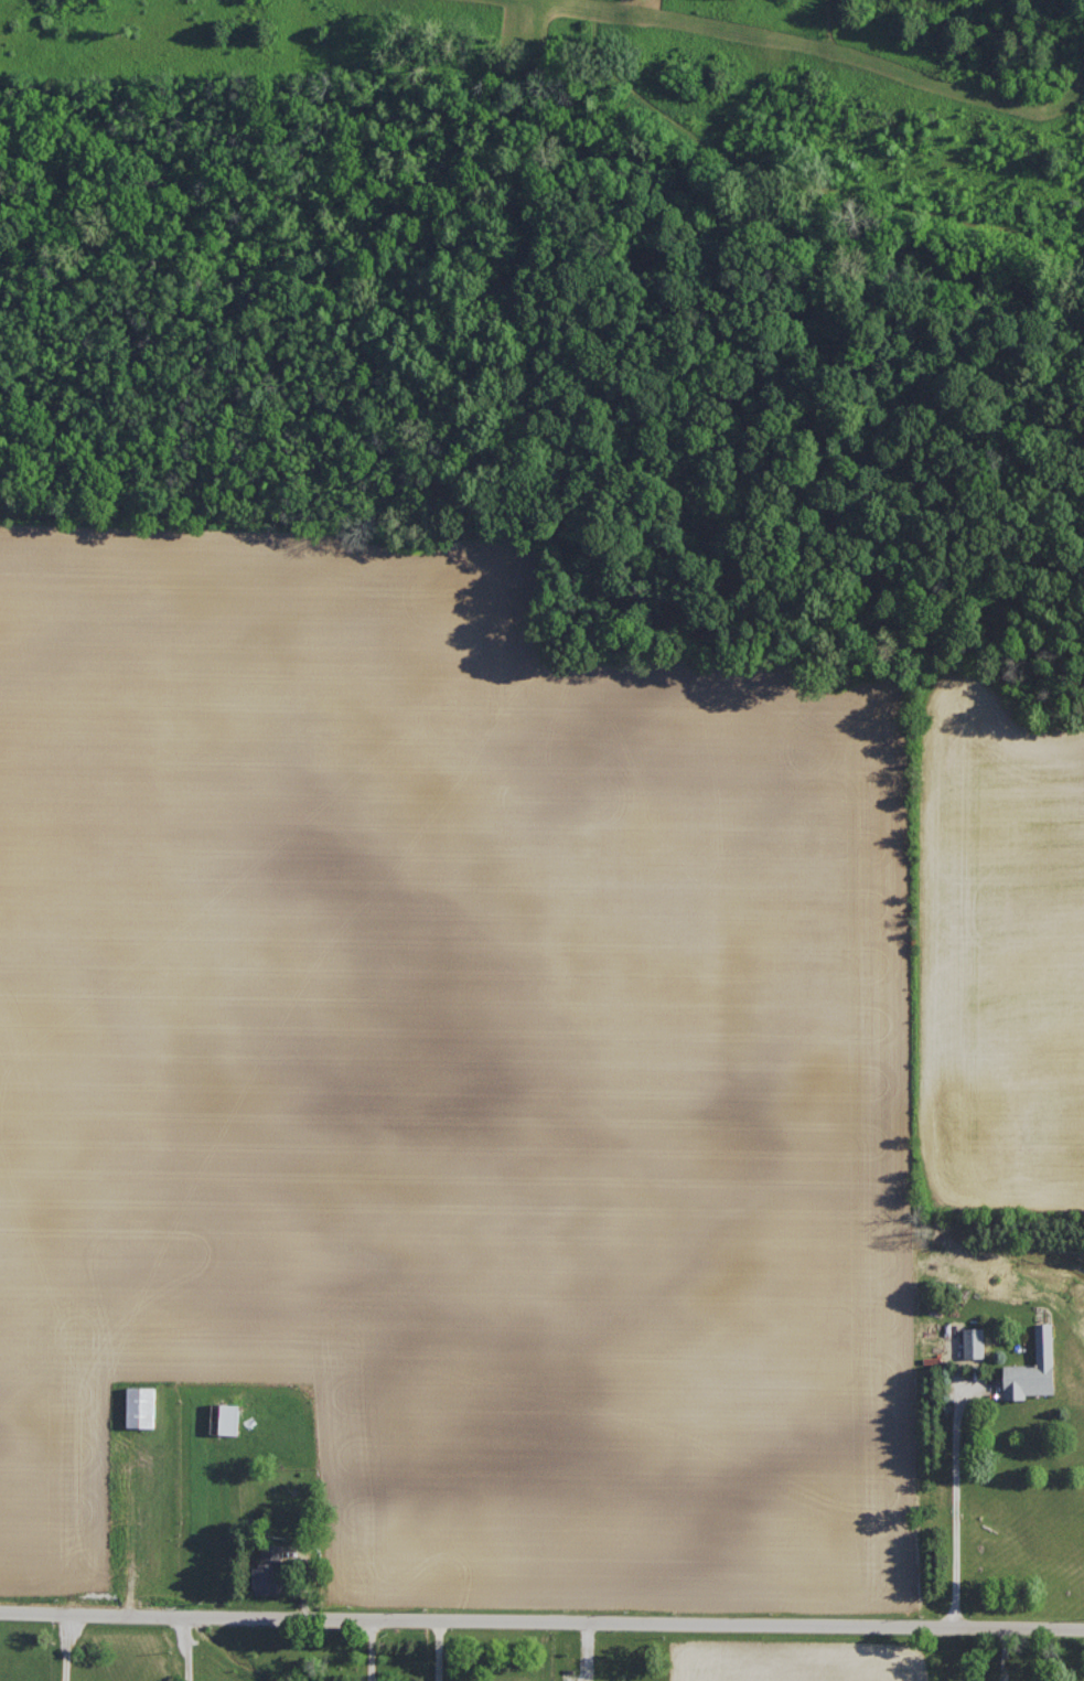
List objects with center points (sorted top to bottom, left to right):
building: (975, 1341)
building: (1033, 1368)
building: (141, 1405)
building: (225, 1417)
road: (957, 1509)
building: (268, 1570)
road: (541, 1621)
road: (68, 1646)
road: (190, 1648)
road: (373, 1649)

